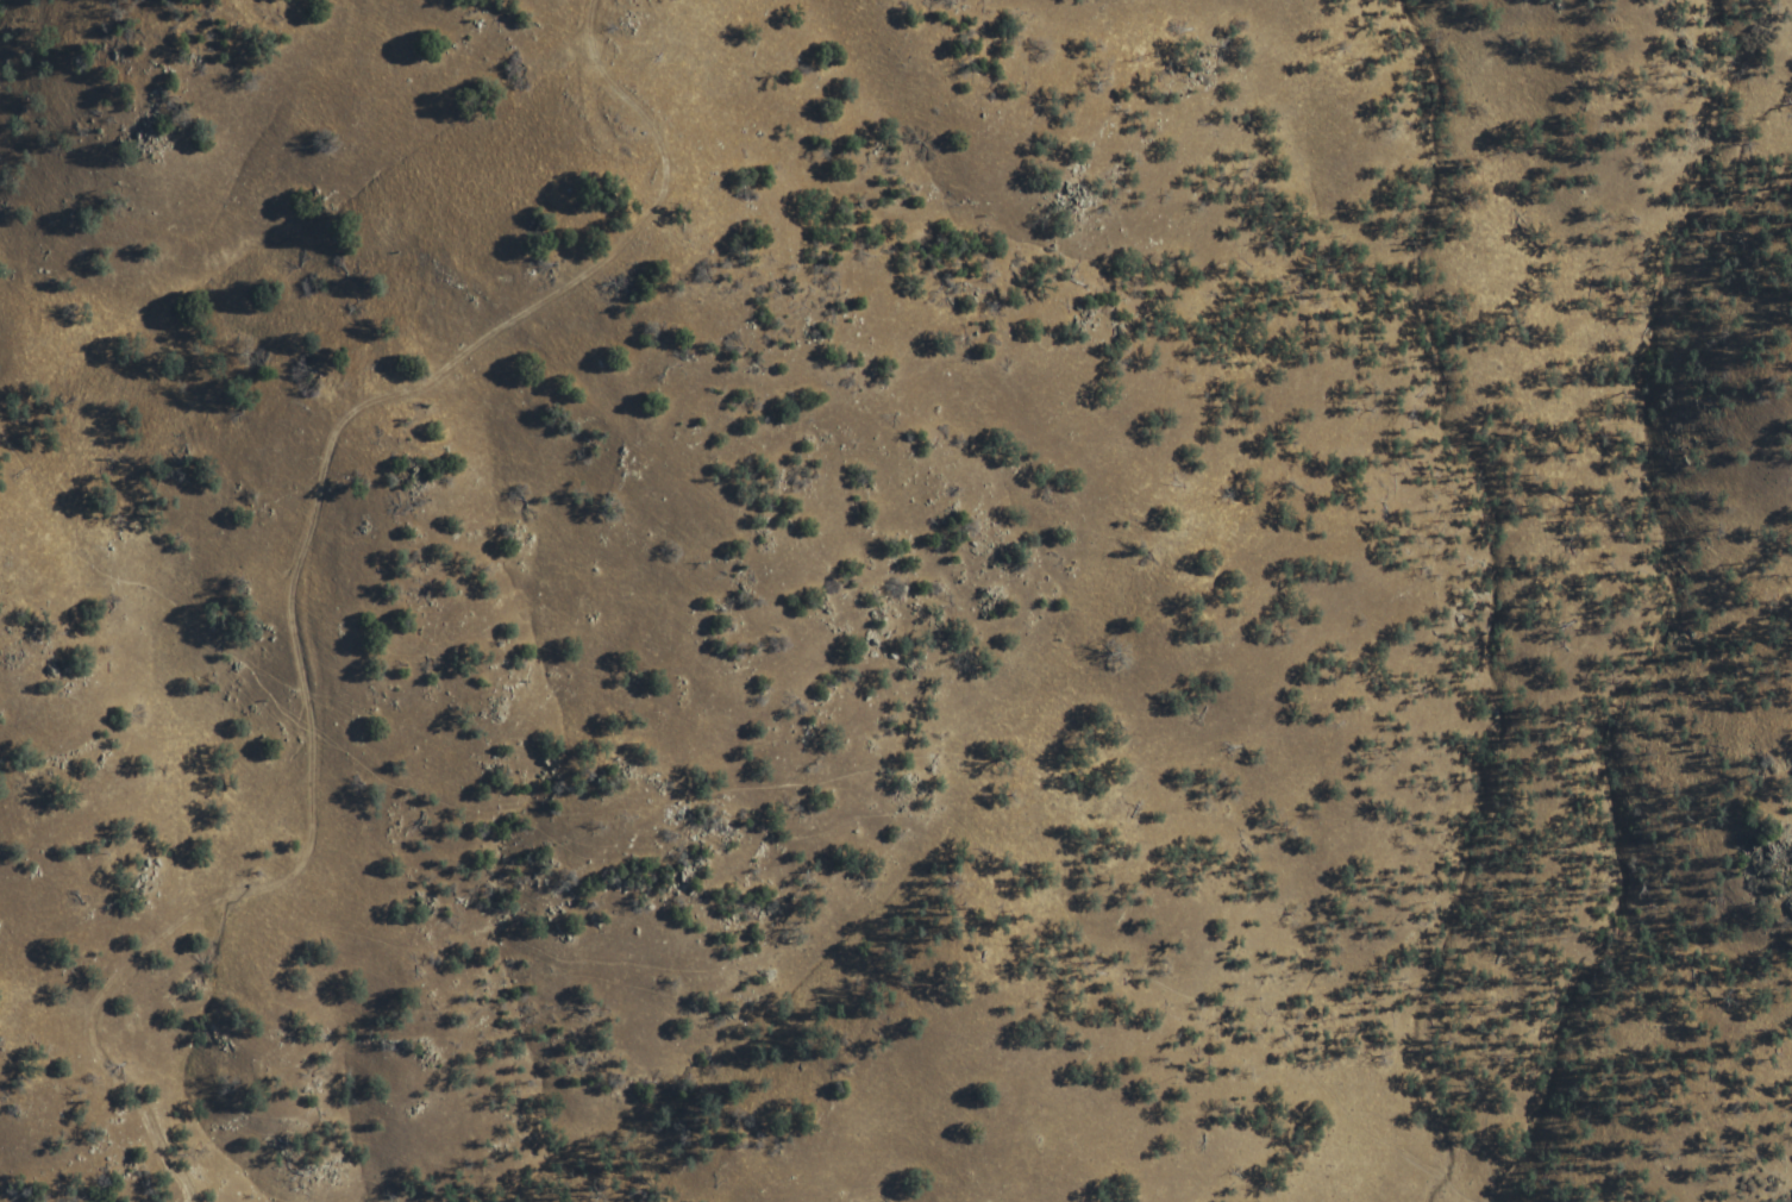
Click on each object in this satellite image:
road: (583, 88)

